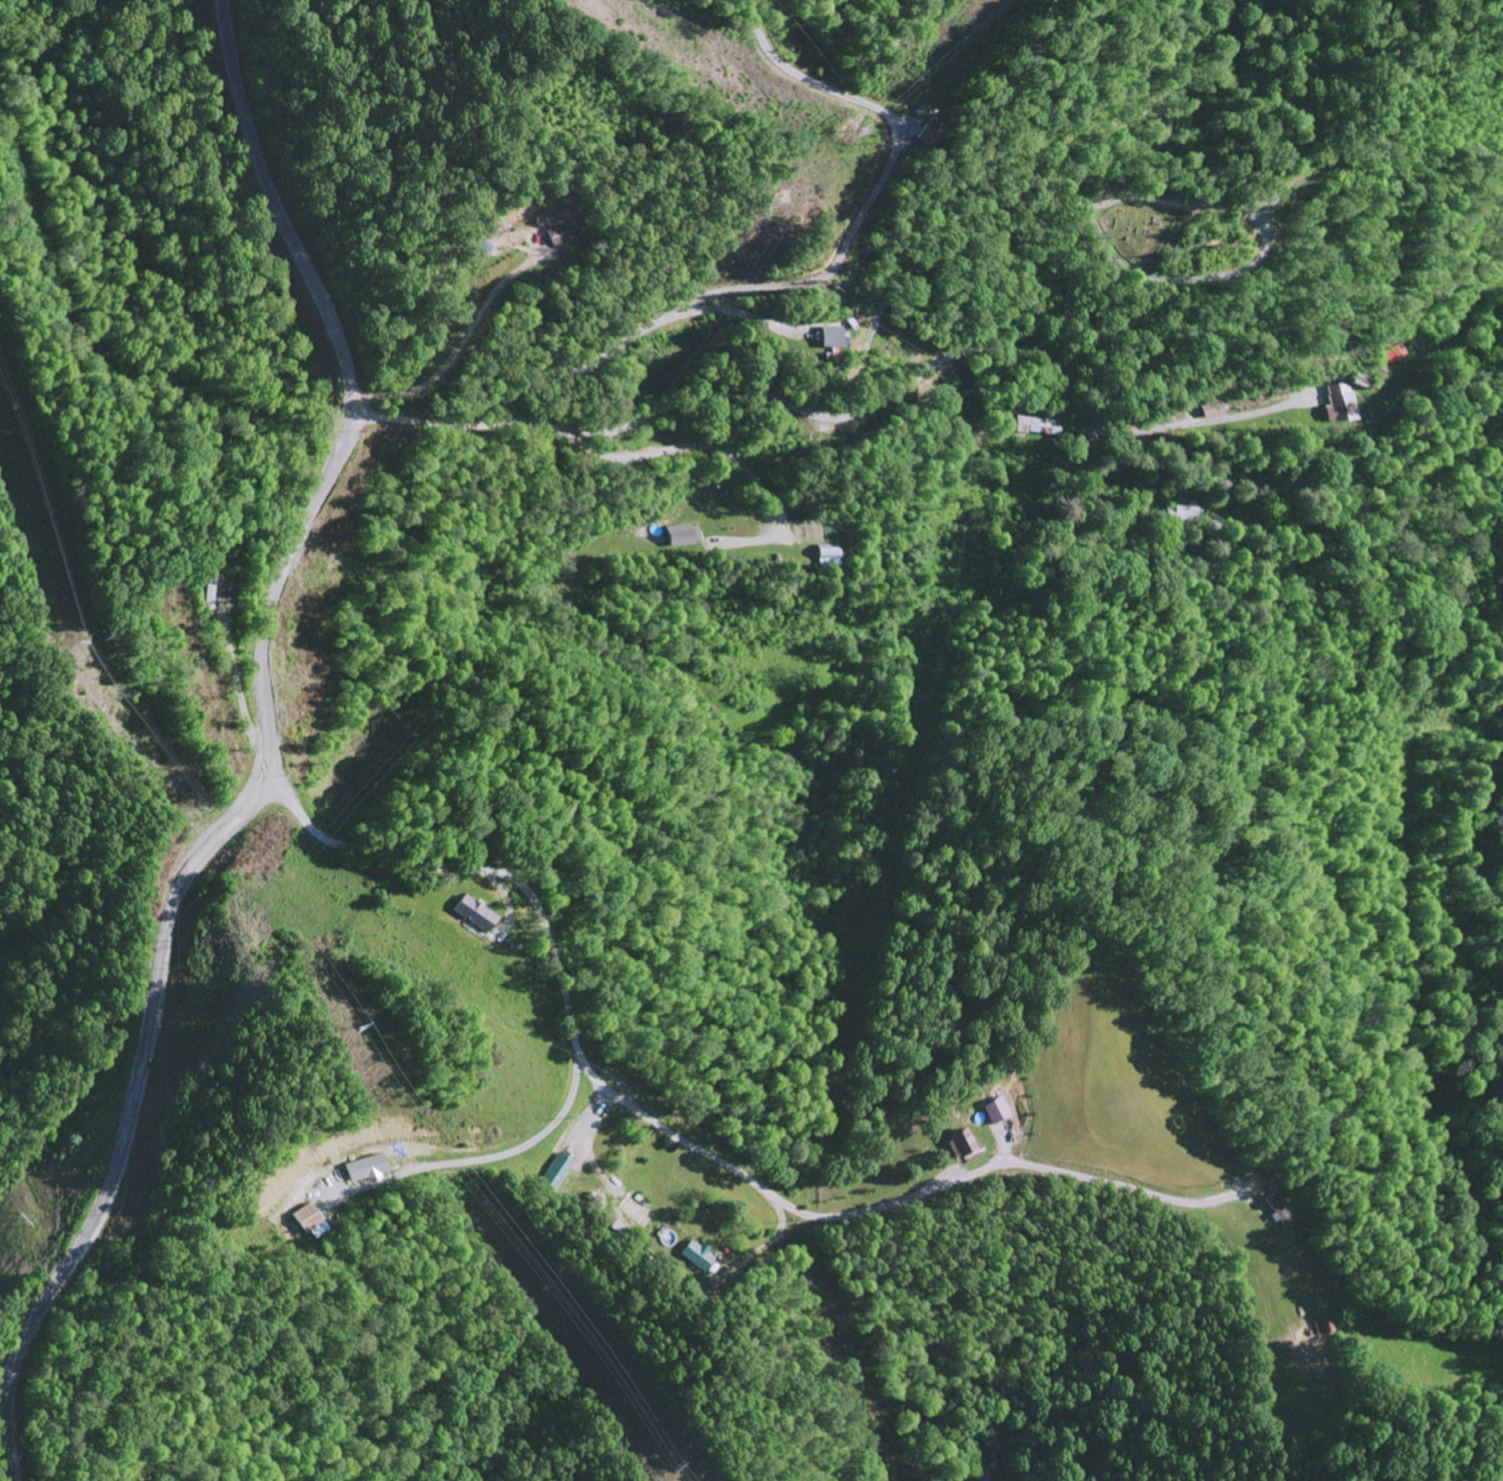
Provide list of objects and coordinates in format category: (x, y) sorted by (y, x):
power tower: (840, 135)
road: (278, 207)
building: (563, 235)
building: (831, 338)
building: (1398, 354)
road: (939, 365)
building: (1339, 404)
building: (1216, 412)
building: (1374, 414)
road: (329, 464)
building: (683, 536)
road: (264, 636)
building: (474, 915)
road: (569, 1012)
road: (130, 1076)
building: (998, 1111)
building: (963, 1146)
building: (563, 1170)
power tower: (15, 1204)
building: (1272, 1209)
building: (317, 1220)
building: (699, 1256)
road: (1, 1437)

